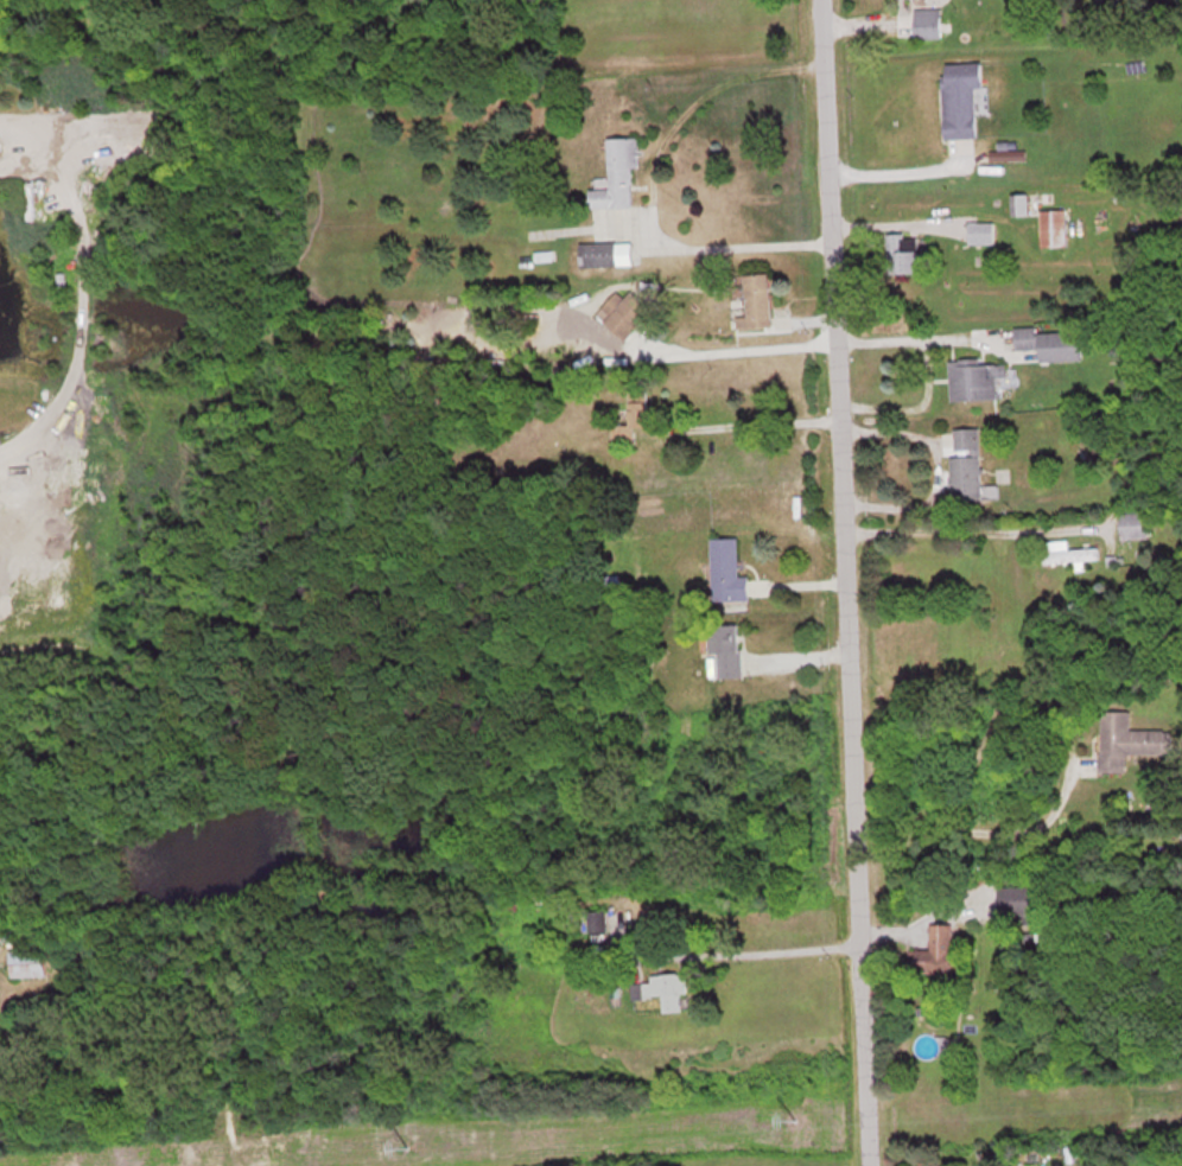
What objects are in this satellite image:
building: (927, 21)
building: (960, 98)
building: (617, 172)
building: (1018, 203)
building: (1051, 227)
building: (979, 231)
building: (901, 250)
building: (605, 251)
building: (752, 299)
building: (622, 311)
building: (1050, 342)
building: (973, 377)
building: (637, 412)
building: (964, 463)
building: (1132, 524)
building: (1066, 552)
building: (726, 569)
road: (843, 582)
building: (608, 585)
building: (1126, 740)
building: (1024, 906)
building: (596, 922)
building: (935, 951)
building: (24, 963)
building: (660, 990)
power tower: (797, 1117)
power tower: (408, 1147)

